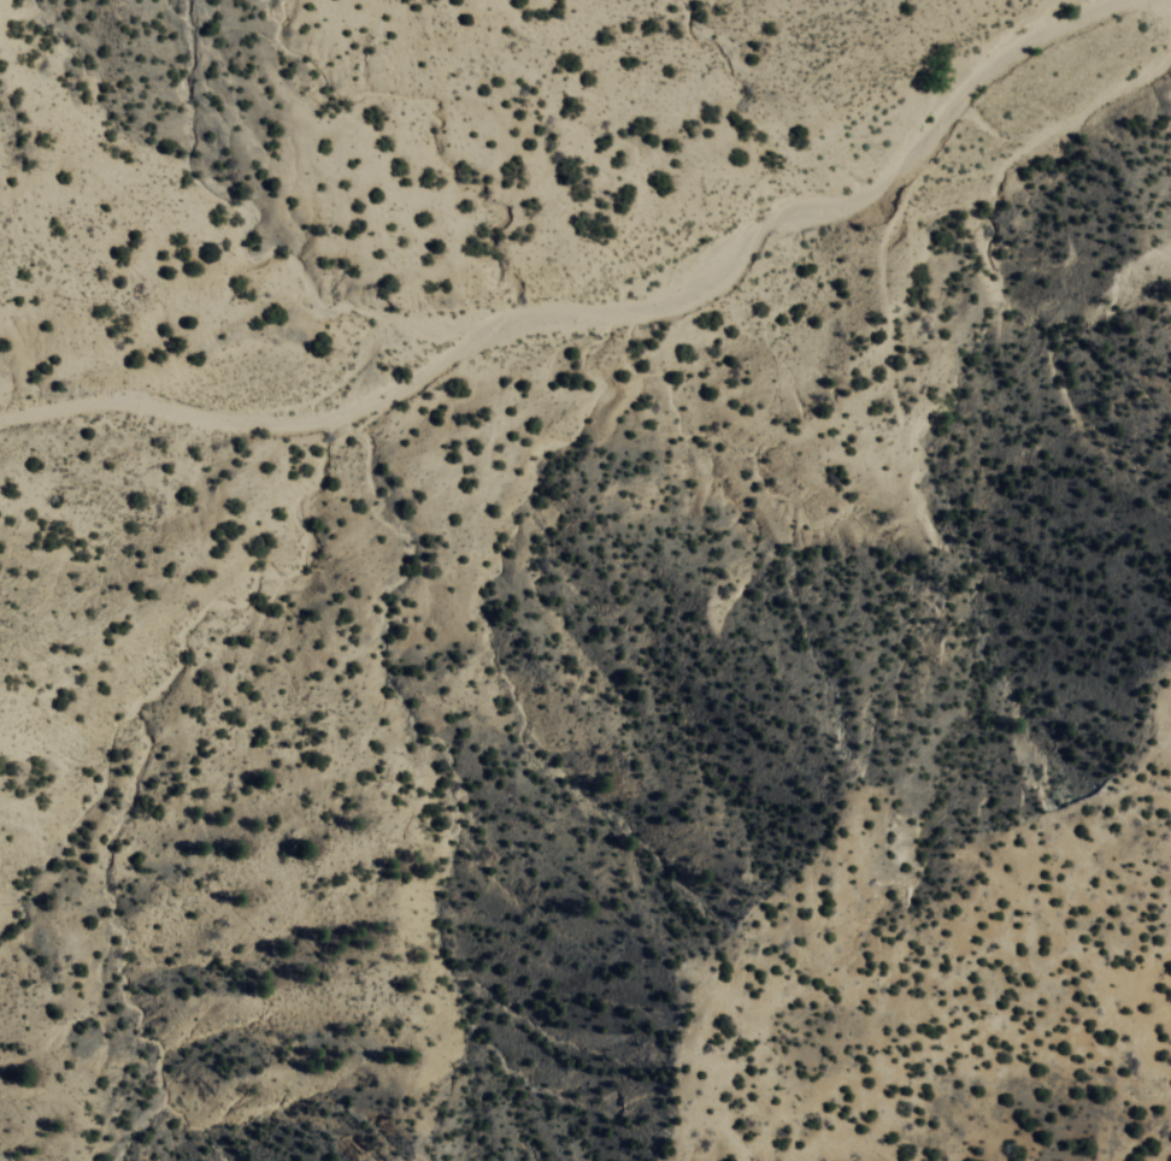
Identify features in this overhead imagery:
road: (946, 131)

